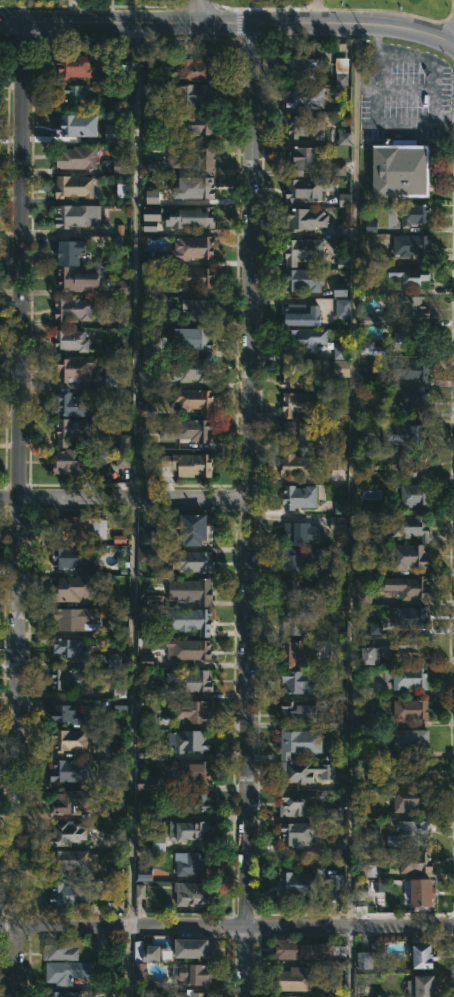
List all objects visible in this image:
road: (198, 11)
road: (313, 11)
road: (227, 23)
building: (79, 64)
building: (301, 67)
building: (197, 69)
building: (342, 70)
road: (433, 77)
building: (76, 93)
building: (194, 94)
building: (152, 97)
building: (306, 97)
road: (434, 113)
road: (386, 121)
building: (196, 124)
building: (75, 125)
building: (307, 126)
building: (119, 133)
building: (147, 135)
building: (343, 138)
building: (78, 157)
building: (193, 159)
building: (121, 166)
building: (150, 167)
building: (339, 168)
building: (403, 169)
road: (59, 171)
building: (297, 173)
building: (74, 185)
building: (193, 188)
building: (120, 190)
building: (152, 196)
building: (344, 199)
building: (415, 213)
building: (73, 215)
building: (191, 216)
building: (152, 217)
building: (307, 218)
building: (340, 230)
building: (413, 246)
building: (86, 247)
building: (193, 247)
building: (304, 250)
road: (134, 260)
building: (152, 273)
building: (413, 275)
building: (79, 277)
building: (195, 277)
building: (305, 278)
building: (123, 286)
building: (162, 305)
building: (413, 307)
building: (74, 308)
building: (199, 309)
building: (342, 309)
building: (303, 314)
building: (405, 334)
building: (308, 338)
building: (71, 339)
building: (193, 339)
building: (373, 348)
building: (411, 366)
building: (74, 369)
building: (193, 369)
building: (364, 373)
building: (297, 376)
building: (147, 378)
building: (118, 379)
building: (416, 396)
building: (195, 400)
building: (301, 403)
building: (71, 404)
building: (144, 408)
building: (196, 429)
building: (74, 430)
building: (306, 432)
building: (403, 434)
building: (123, 451)
building: (76, 460)
building: (337, 461)
building: (189, 463)
building: (301, 465)
building: (416, 465)
building: (415, 494)
building: (299, 496)
road: (124, 498)
building: (340, 506)
road: (17, 509)
road: (351, 509)
road: (249, 510)
building: (337, 524)
building: (410, 527)
building: (79, 529)
building: (196, 529)
building: (295, 533)
building: (145, 543)
building: (410, 556)
building: (71, 557)
building: (303, 559)
building: (196, 561)
building: (408, 586)
building: (72, 588)
building: (300, 588)
building: (193, 591)
building: (364, 596)
building: (337, 601)
building: (412, 617)
building: (79, 618)
building: (189, 620)
building: (293, 622)
building: (374, 628)
building: (70, 648)
building: (190, 649)
building: (406, 649)
building: (298, 652)
building: (369, 655)
building: (146, 660)
building: (408, 677)
building: (72, 678)
building: (191, 681)
building: (298, 681)
building: (156, 691)
building: (339, 697)
building: (411, 710)
building: (190, 711)
building: (300, 711)
road: (131, 712)
building: (69, 713)
building: (336, 726)
building: (189, 739)
building: (412, 740)
building: (70, 741)
building: (300, 743)
building: (70, 771)
building: (192, 772)
building: (304, 772)
building: (397, 774)
building: (110, 783)
building: (146, 784)
building: (412, 799)
building: (71, 800)
building: (296, 802)
building: (192, 803)
building: (334, 814)
building: (369, 830)
building: (193, 832)
building: (68, 833)
building: (299, 833)
building: (413, 833)
building: (157, 842)
building: (339, 844)
building: (74, 861)
building: (416, 862)
building: (193, 863)
building: (366, 871)
building: (144, 874)
building: (335, 883)
building: (297, 884)
building: (139, 891)
building: (192, 894)
building: (423, 894)
building: (68, 895)
building: (393, 898)
building: (115, 903)
road: (226, 927)
building: (193, 947)
building: (290, 947)
building: (60, 949)
building: (425, 954)
building: (143, 958)
building: (364, 960)
road: (127, 962)
building: (66, 972)
building: (195, 973)
building: (294, 978)
building: (422, 985)
building: (191, 993)
building: (62, 994)
building: (297, 996)
building: (382, 996)

